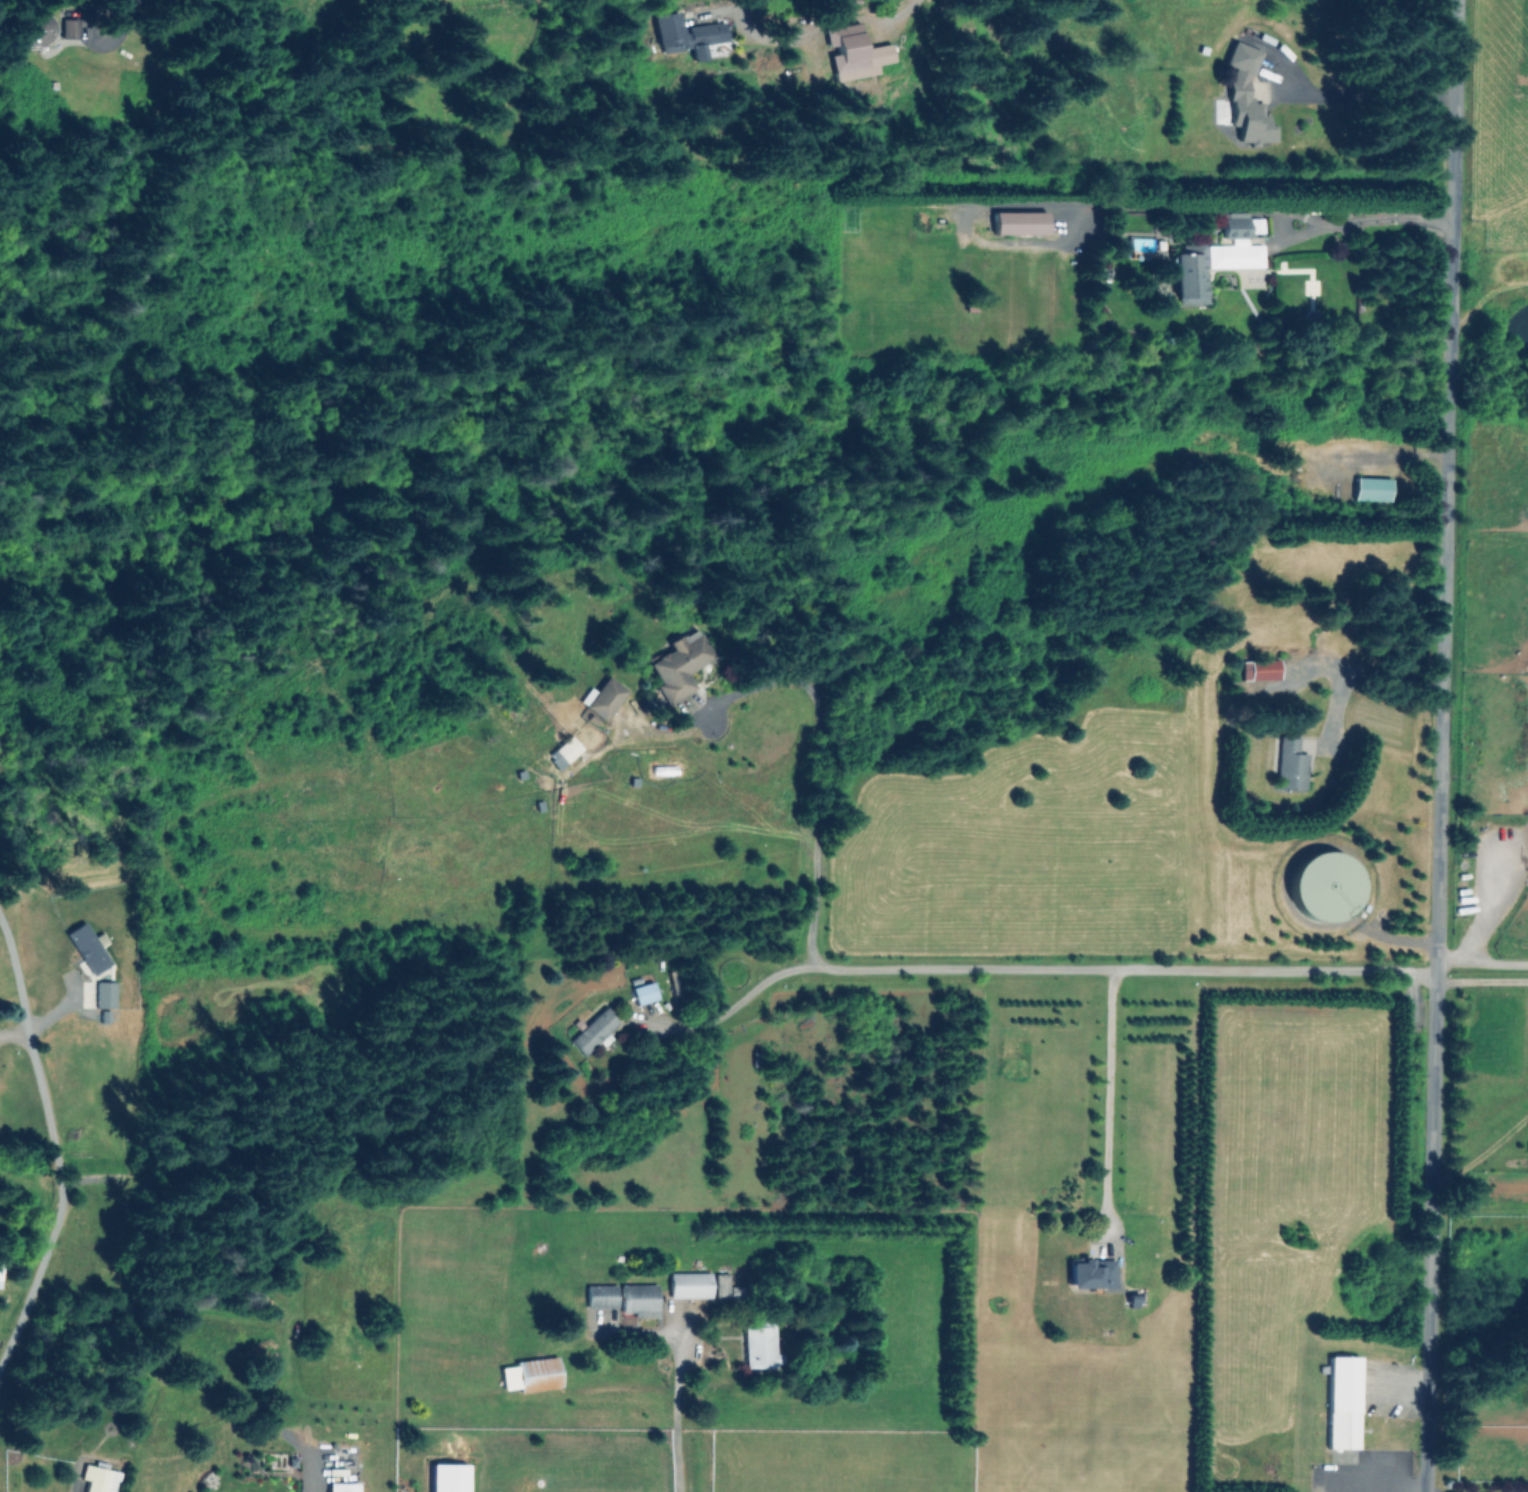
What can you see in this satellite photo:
road: (810, 27)
building: (49, 31)
building: (687, 36)
building: (856, 55)
building: (1246, 99)
road: (1364, 103)
road: (1255, 207)
building: (1019, 224)
building: (1236, 226)
building: (1190, 275)
road: (1361, 454)
building: (1371, 490)
building: (680, 667)
building: (1259, 672)
building: (604, 700)
road: (1441, 746)
building: (566, 751)
building: (1290, 768)
road: (820, 773)
road: (1483, 962)
road: (1128, 968)
road: (13, 979)
road: (1482, 982)
building: (643, 993)
road: (736, 1000)
building: (593, 1032)
road: (13, 1036)
road: (1107, 1094)
road: (59, 1200)
building: (1090, 1274)
building: (688, 1286)
building: (600, 1297)
building: (638, 1300)
building: (758, 1347)
building: (529, 1375)
building: (1343, 1402)
road: (675, 1417)
building: (452, 1476)
building: (99, 1479)
road: (1476, 1488)

